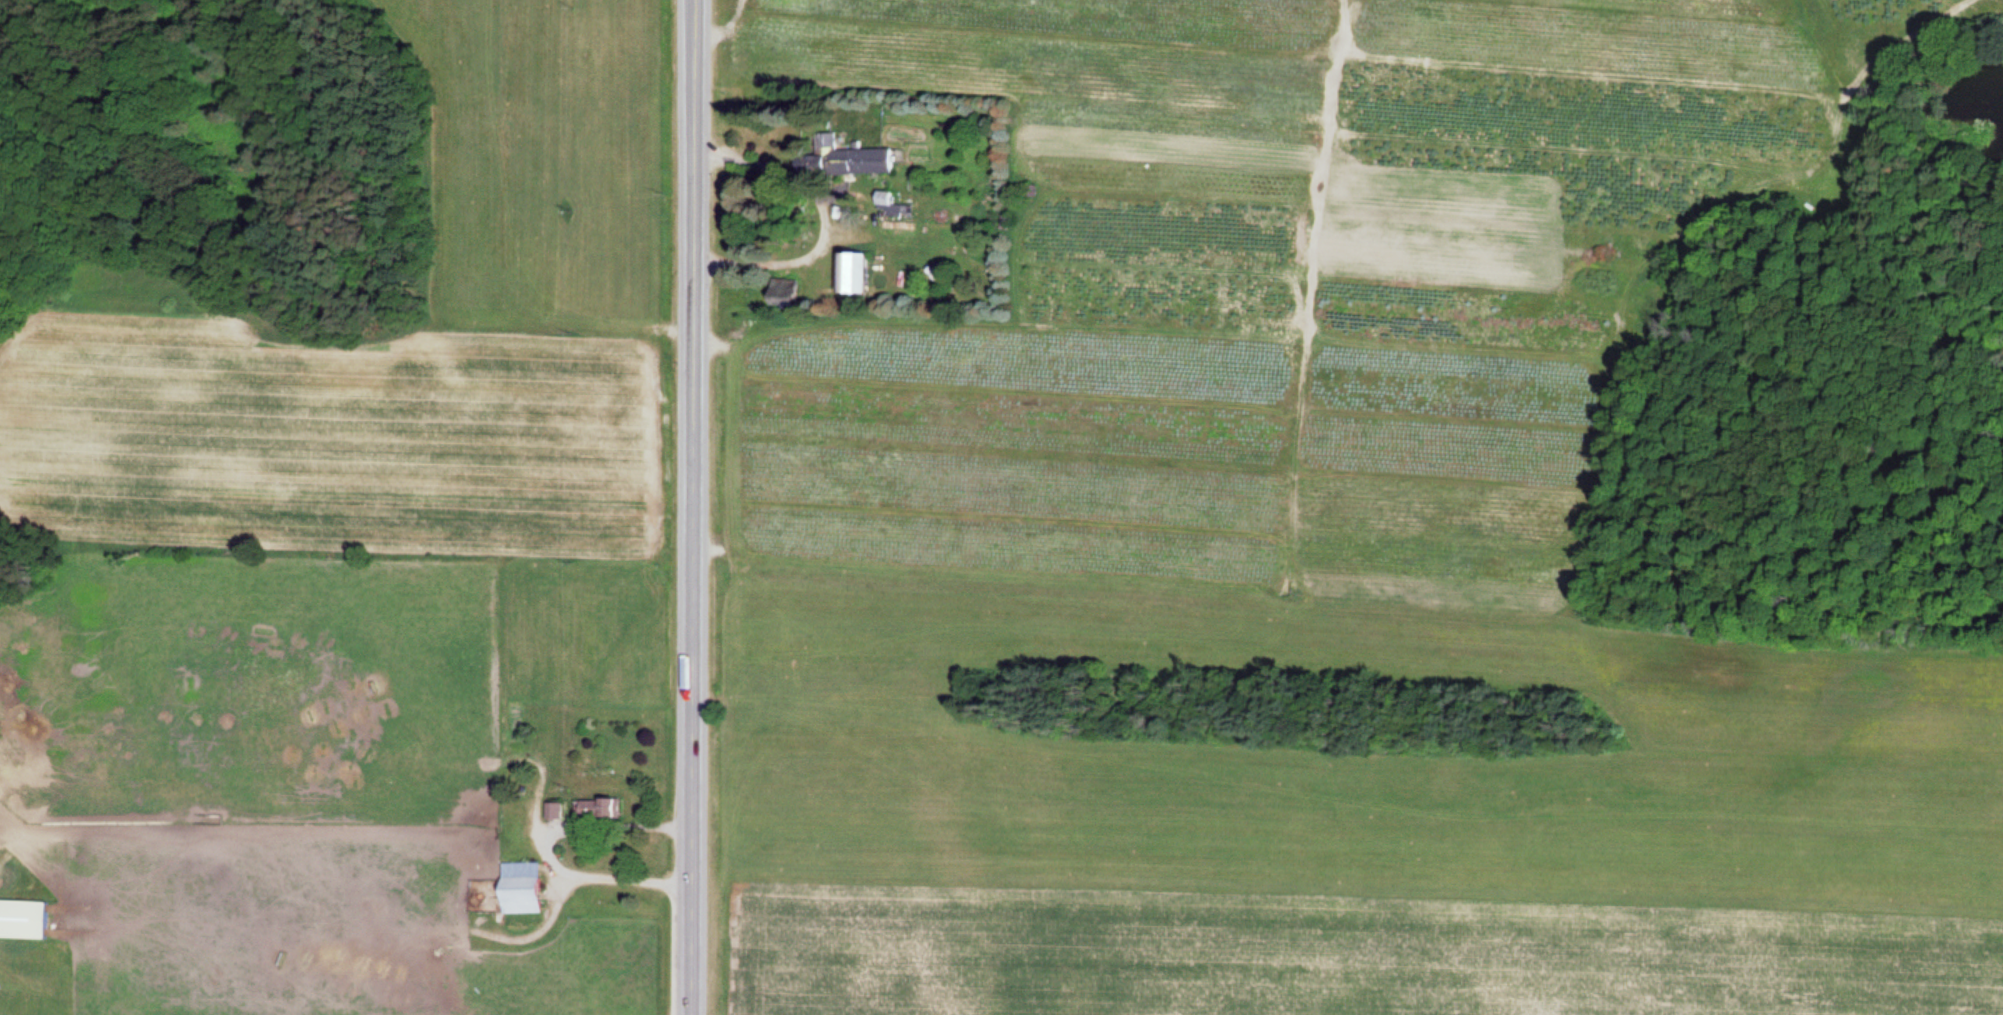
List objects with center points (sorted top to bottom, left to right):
building: (850, 158)
building: (850, 273)
road: (691, 507)
building: (597, 808)
building: (552, 810)
building: (518, 888)
building: (21, 919)

